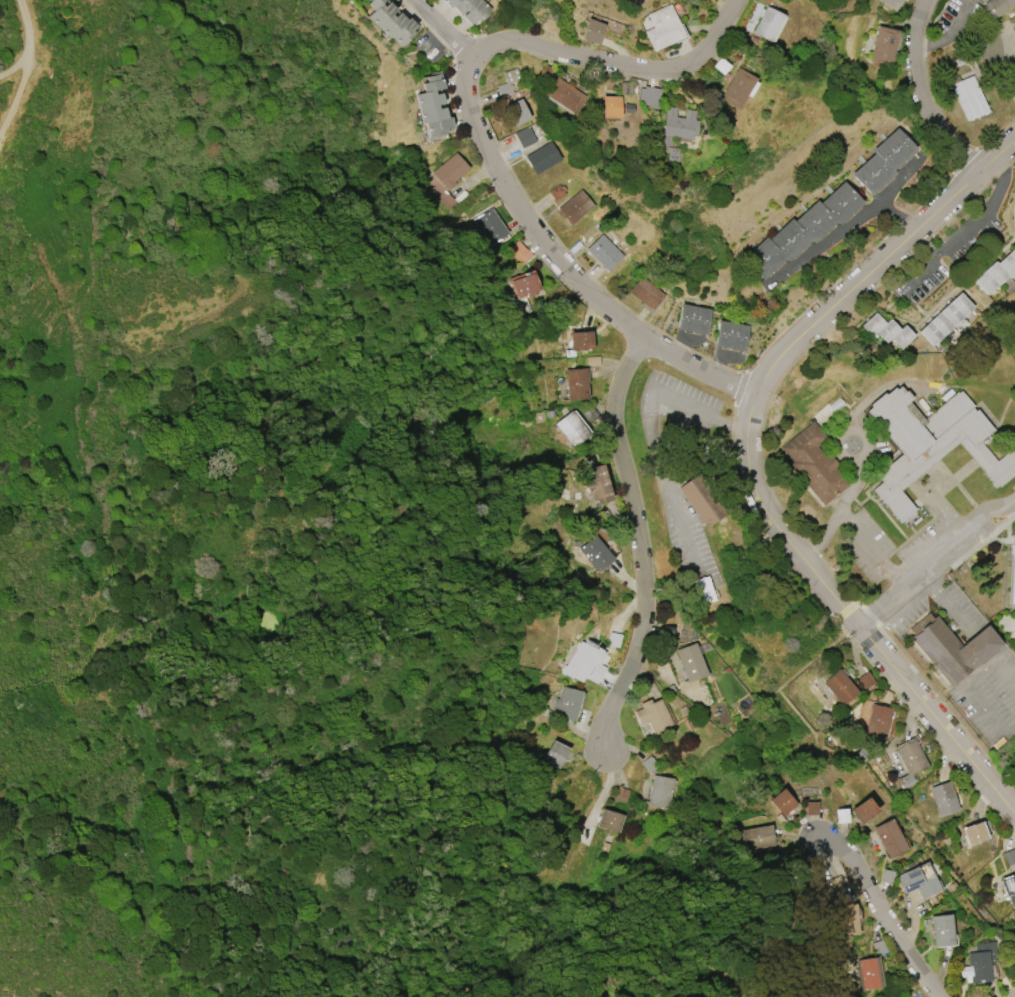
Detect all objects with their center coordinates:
building: (449, 2)
building: (891, 3)
building: (374, 4)
building: (464, 5)
building: (997, 7)
building: (476, 12)
building: (381, 13)
building: (392, 24)
building: (767, 24)
road: (27, 28)
building: (662, 28)
road: (444, 29)
building: (592, 31)
building: (404, 32)
road: (946, 33)
building: (883, 46)
road: (616, 61)
road: (16, 68)
building: (432, 82)
building: (508, 82)
building: (738, 88)
building: (563, 95)
building: (649, 95)
road: (922, 95)
road: (16, 98)
building: (969, 98)
building: (428, 99)
building: (609, 107)
building: (517, 112)
building: (431, 114)
building: (675, 125)
building: (438, 126)
building: (525, 137)
building: (542, 158)
building: (882, 161)
building: (451, 170)
building: (439, 191)
building: (556, 193)
road: (884, 197)
building: (575, 207)
building: (491, 226)
road: (969, 228)
building: (801, 230)
road: (825, 241)
building: (604, 252)
road: (564, 264)
building: (997, 272)
building: (524, 285)
building: (646, 293)
building: (693, 319)
building: (945, 319)
building: (886, 330)
building: (730, 335)
building: (580, 340)
building: (576, 384)
building: (571, 429)
road: (647, 432)
building: (926, 436)
building: (814, 463)
road: (746, 466)
building: (597, 484)
building: (700, 500)
building: (892, 500)
road: (639, 542)
road: (874, 549)
building: (596, 553)
road: (933, 556)
building: (1012, 576)
building: (703, 590)
road: (650, 594)
road: (943, 603)
road: (900, 608)
road: (851, 629)
building: (1014, 631)
building: (953, 649)
building: (582, 661)
building: (690, 662)
road: (1003, 673)
road: (745, 686)
building: (840, 687)
road: (976, 699)
building: (567, 703)
road: (798, 715)
building: (653, 716)
building: (878, 721)
building: (555, 754)
building: (911, 757)
building: (659, 792)
building: (620, 795)
building: (944, 799)
building: (782, 802)
building: (811, 810)
building: (862, 810)
building: (608, 820)
building: (973, 833)
building: (757, 838)
building: (889, 838)
building: (838, 883)
building: (916, 883)
building: (1008, 884)
road: (884, 914)
building: (845, 920)
building: (941, 930)
building: (979, 963)
building: (867, 974)
road: (683, 994)
road: (1014, 996)

